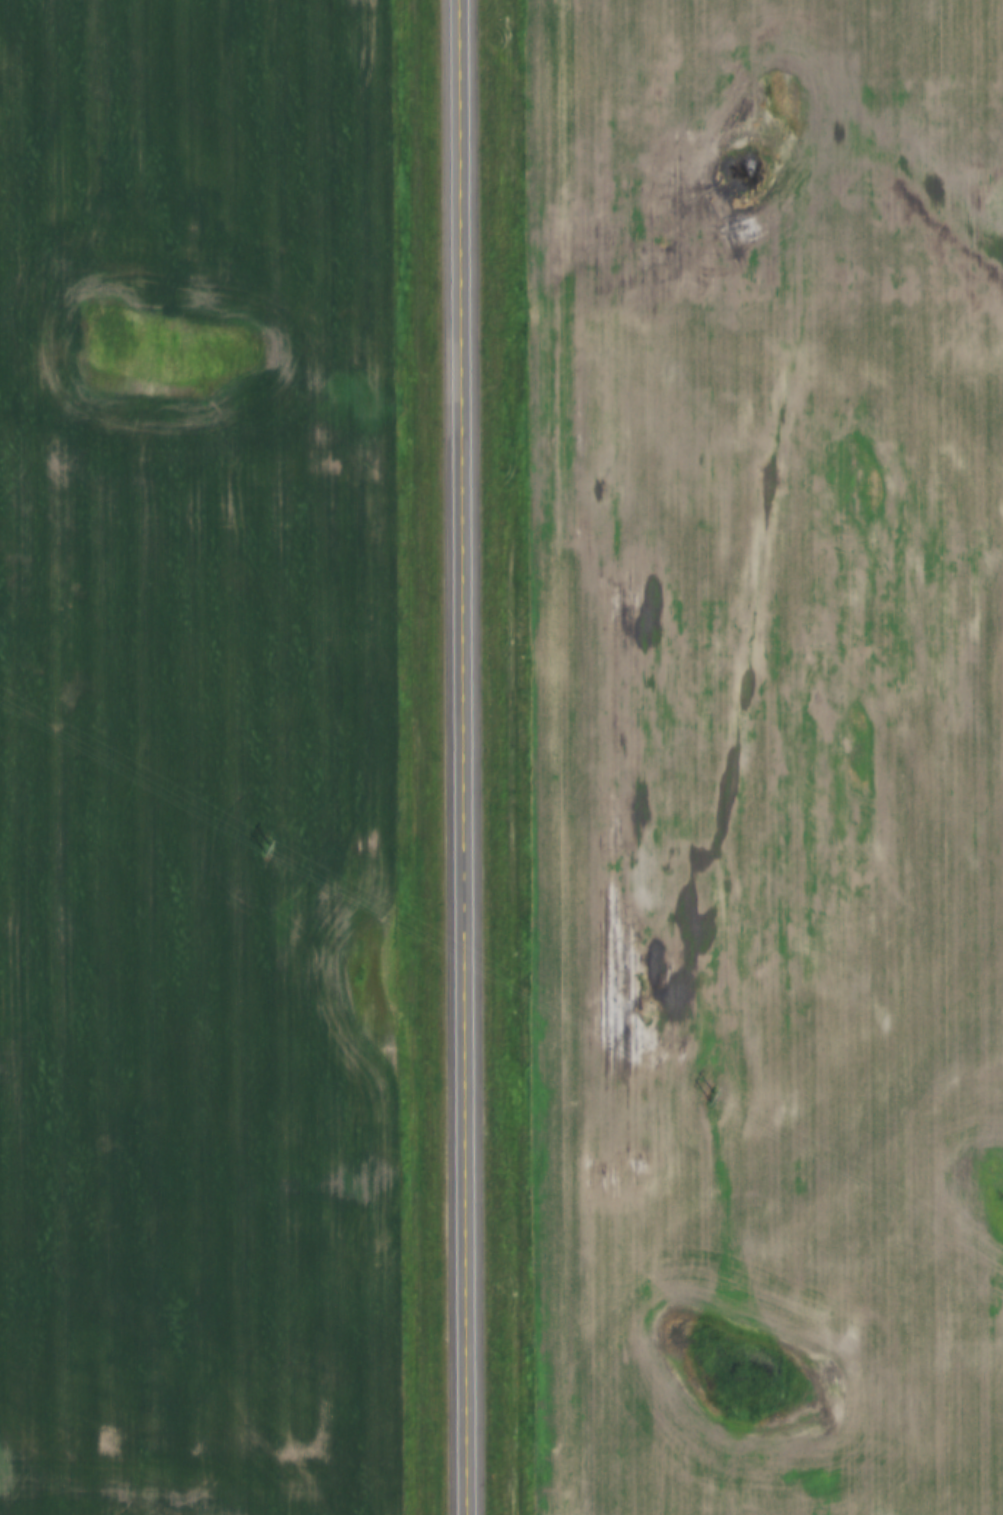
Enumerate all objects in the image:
road: (480, 757)
power tower: (269, 847)
power tower: (708, 1094)

